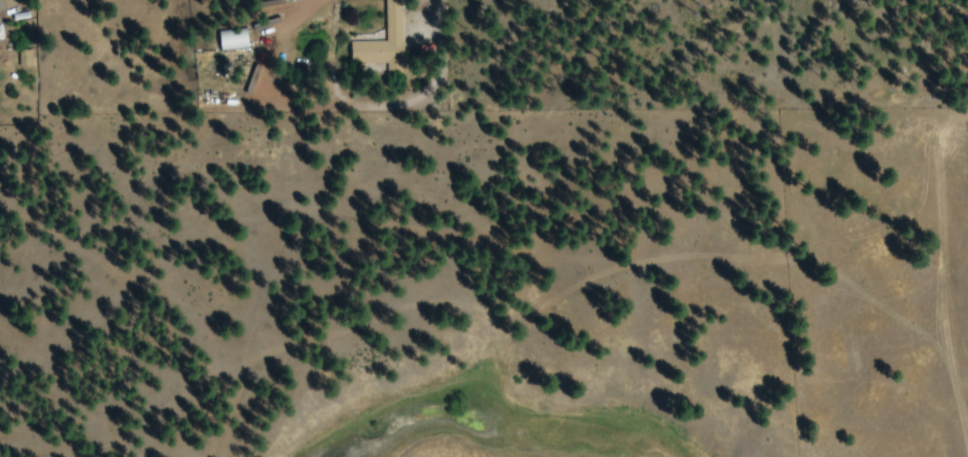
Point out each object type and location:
building: (234, 40)

